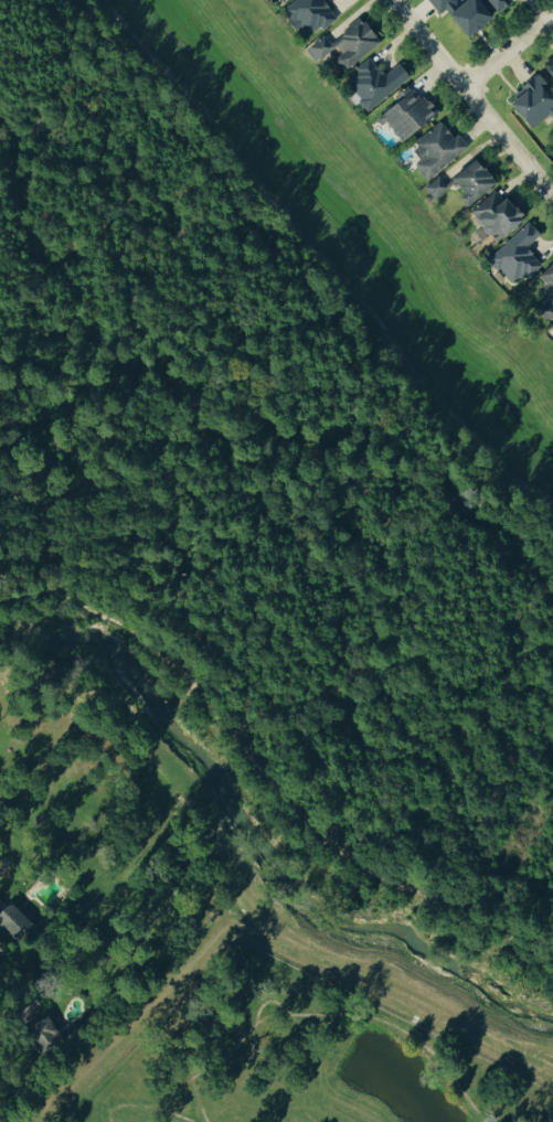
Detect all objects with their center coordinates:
building: (440, 4)
building: (497, 4)
building: (308, 13)
building: (468, 15)
building: (345, 44)
road: (506, 50)
building: (549, 68)
building: (373, 83)
road: (470, 97)
building: (530, 101)
building: (405, 113)
building: (435, 149)
building: (469, 181)
building: (435, 186)
building: (493, 215)
building: (515, 255)
building: (546, 276)
building: (546, 309)
park: (259, 471)
river: (260, 837)
building: (9, 918)
road: (15, 1025)
building: (41, 1032)

